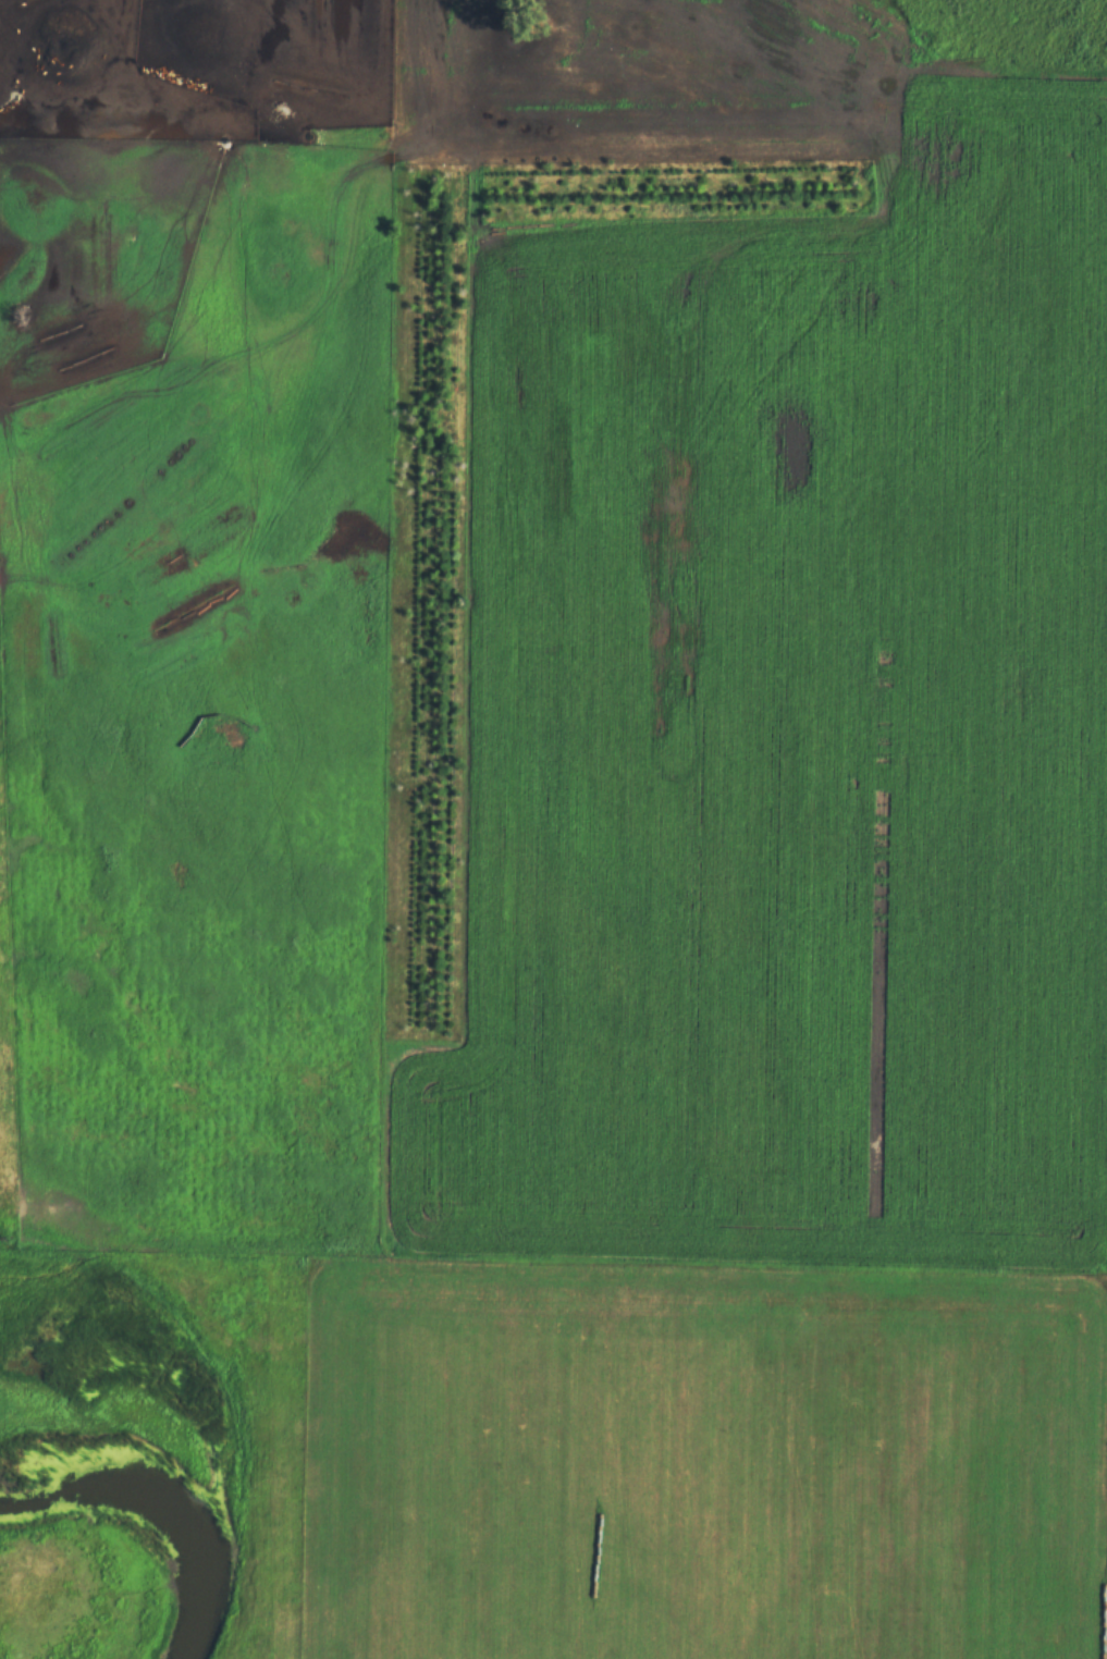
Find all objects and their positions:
crop: (704, 1465)
river: (153, 1510)

